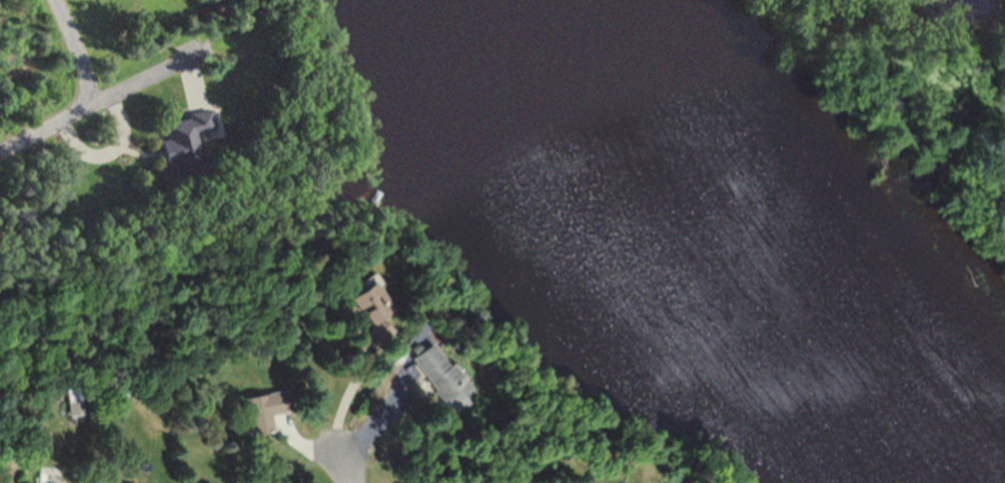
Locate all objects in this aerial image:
road: (77, 50)
road: (149, 72)
building: (180, 143)
river: (694, 249)
building: (362, 303)
building: (427, 373)
road: (341, 396)
building: (257, 413)
road: (345, 469)

